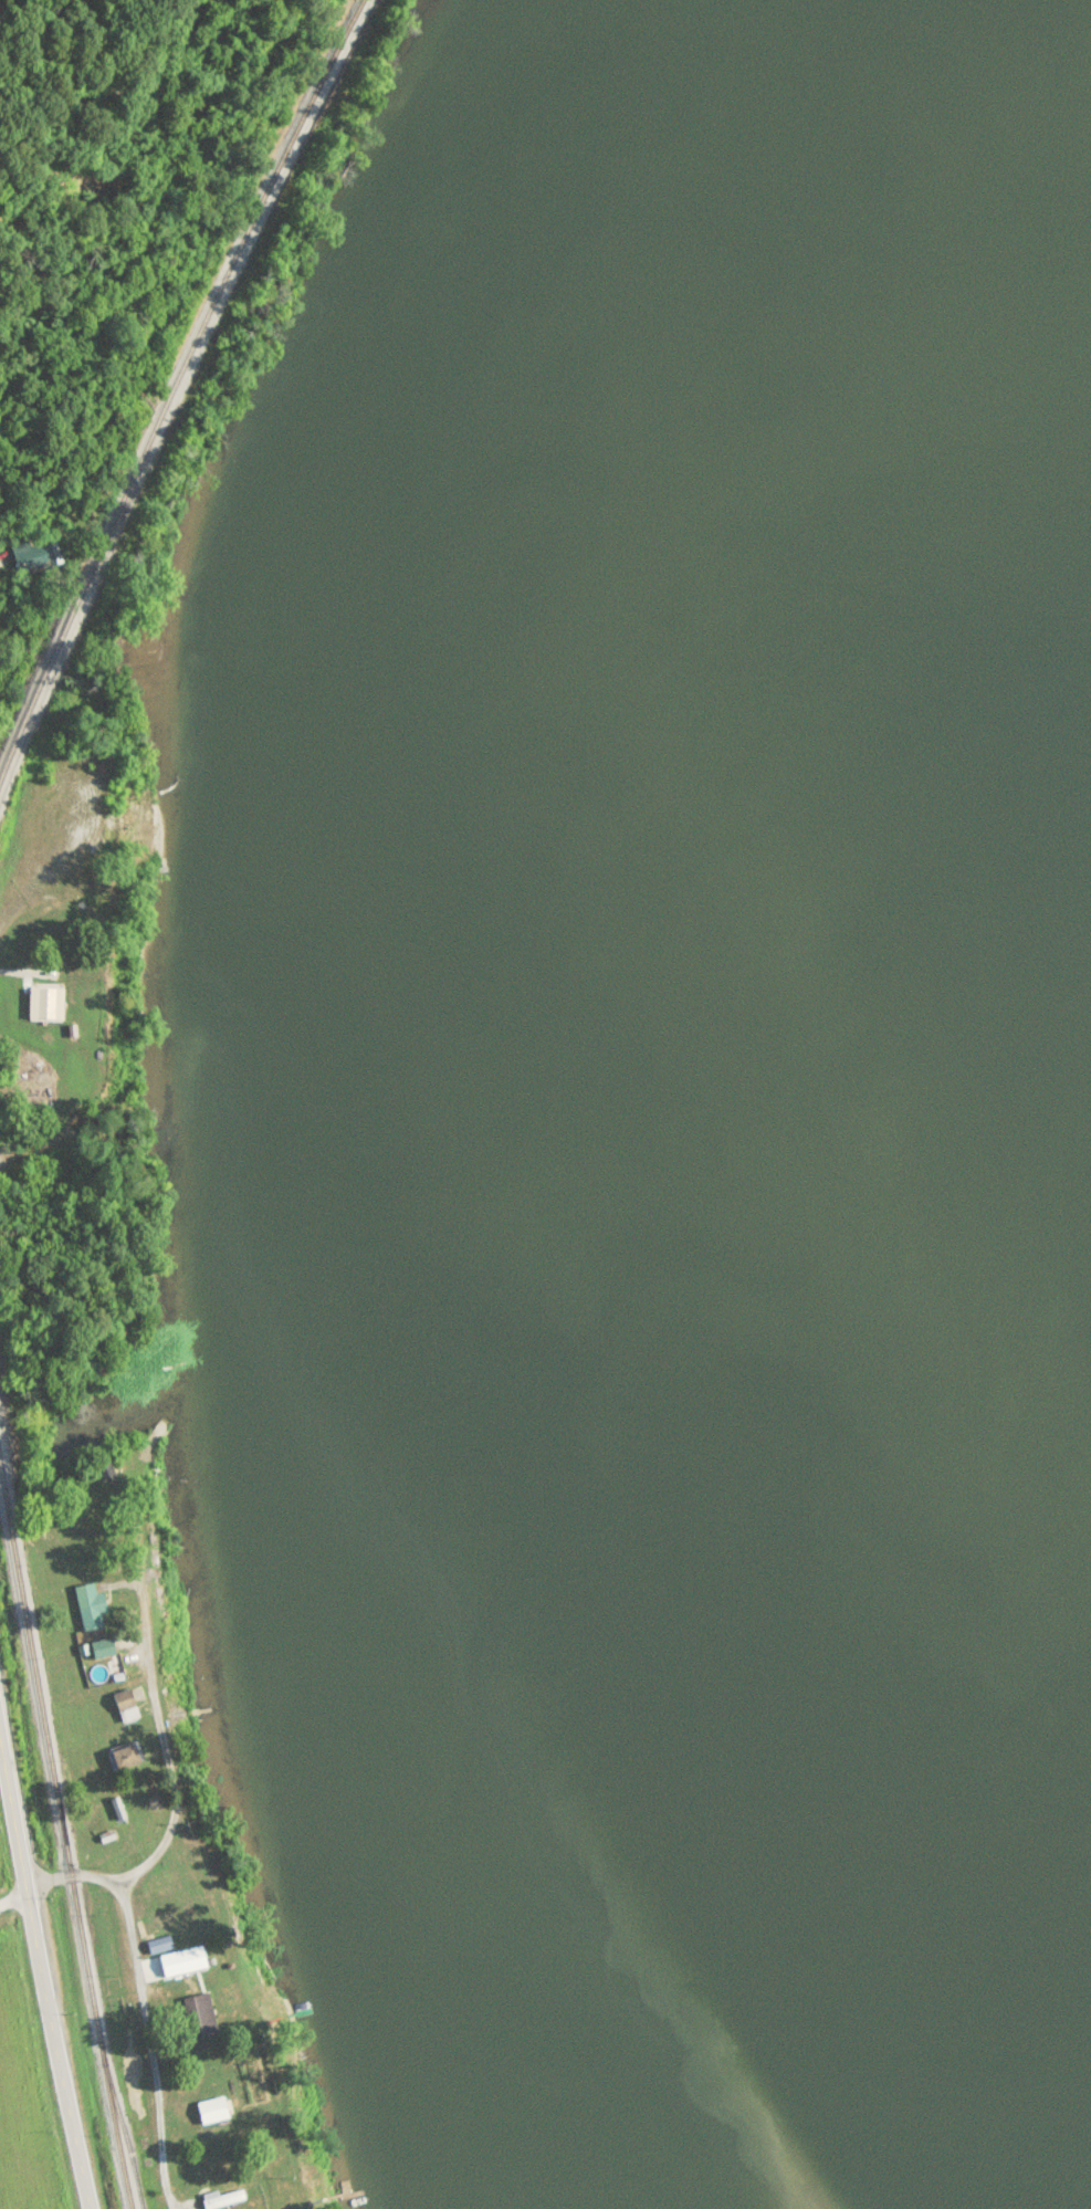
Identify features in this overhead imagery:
railway: (179, 388)
building: (35, 559)
river: (704, 1070)
building: (87, 1606)
building: (103, 1662)
building: (123, 1706)
building: (122, 1757)
road: (172, 1793)
railway: (63, 1842)
road: (12, 1899)
building: (157, 1945)
building: (180, 1962)
road: (43, 1977)
building: (198, 2017)
building: (214, 2109)
building: (221, 2200)

